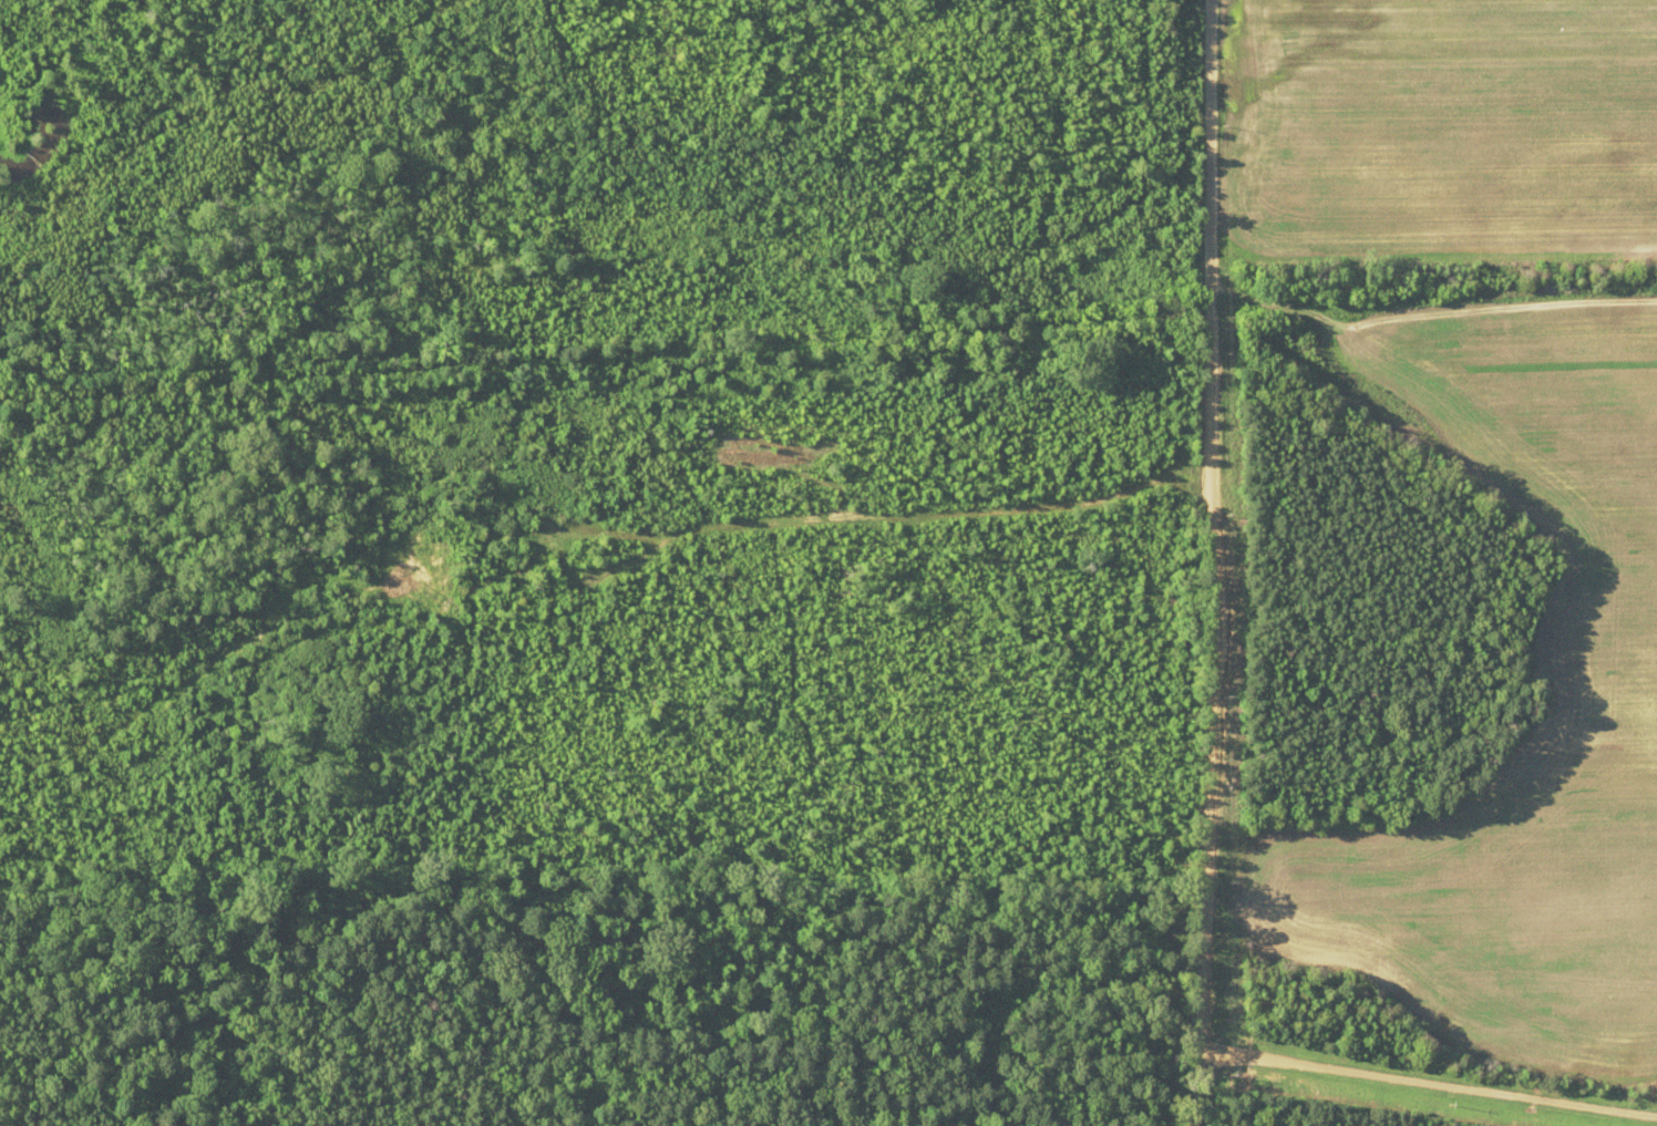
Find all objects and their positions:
railway: (827, 338)
road: (1463, 353)
road: (1458, 472)
road: (1214, 562)

